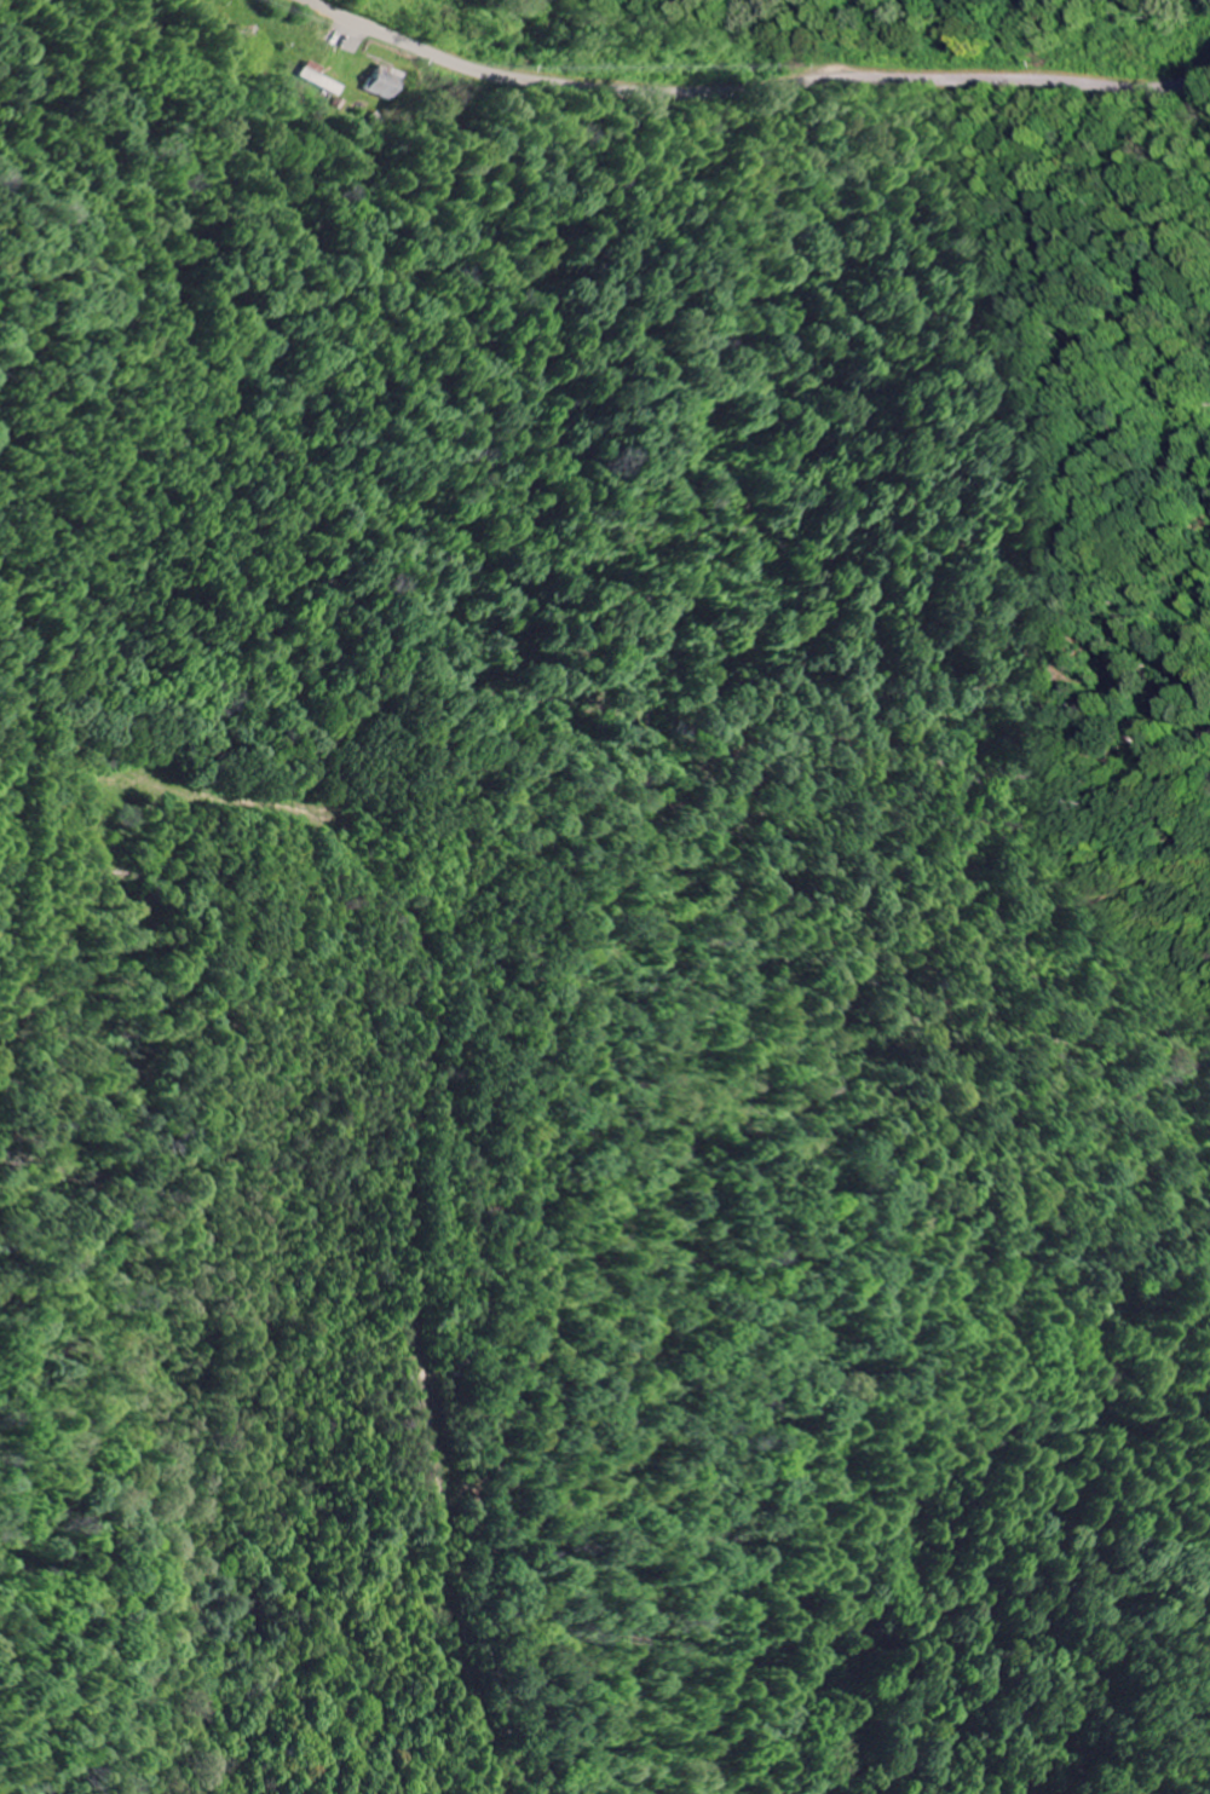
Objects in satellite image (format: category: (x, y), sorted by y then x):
road: (755, 90)

